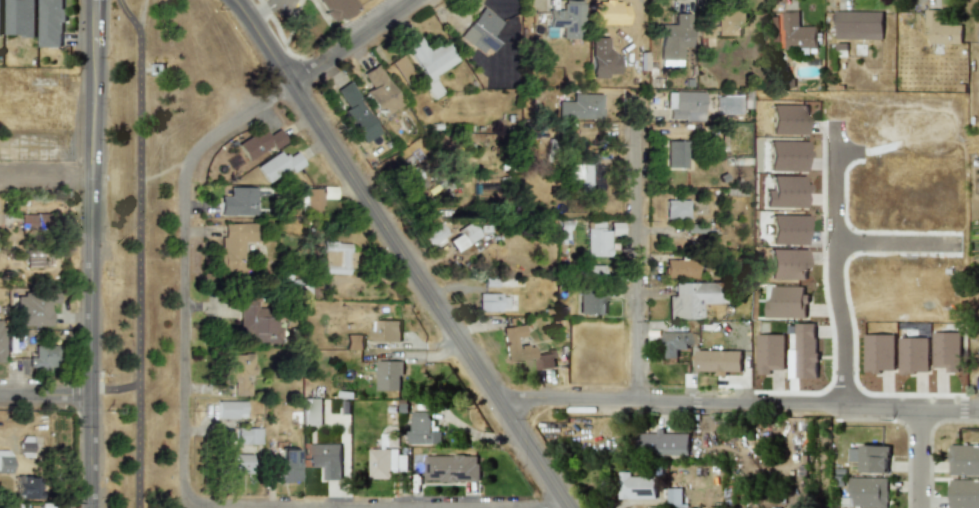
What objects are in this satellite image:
road: (260, 8)
building: (335, 8)
building: (604, 10)
building: (0, 15)
building: (19, 18)
building: (565, 18)
building: (51, 22)
building: (721, 24)
building: (858, 24)
building: (941, 28)
building: (480, 31)
building: (794, 31)
building: (978, 34)
building: (674, 37)
road: (263, 41)
road: (355, 42)
building: (601, 58)
building: (430, 61)
building: (379, 91)
building: (684, 105)
building: (580, 106)
building: (356, 112)
building: (787, 118)
building: (259, 142)
building: (675, 153)
building: (786, 154)
building: (276, 165)
building: (585, 171)
road: (44, 181)
building: (411, 181)
building: (785, 192)
building: (309, 199)
building: (237, 201)
building: (676, 209)
building: (27, 222)
building: (786, 227)
road: (865, 231)
building: (432, 234)
building: (599, 236)
building: (461, 237)
building: (234, 243)
road: (896, 243)
road: (635, 249)
road: (139, 251)
road: (89, 254)
building: (334, 257)
road: (833, 262)
building: (785, 264)
building: (679, 268)
building: (591, 269)
road: (186, 271)
building: (865, 278)
road: (823, 292)
road: (428, 296)
building: (691, 298)
building: (591, 301)
building: (491, 302)
building: (786, 302)
building: (33, 309)
building: (254, 321)
road: (851, 321)
building: (386, 330)
building: (1, 340)
building: (353, 341)
building: (673, 343)
building: (514, 344)
building: (806, 351)
building: (769, 352)
building: (42, 358)
building: (544, 360)
building: (718, 360)
building: (238, 371)
building: (388, 374)
road: (44, 394)
road: (736, 402)
building: (230, 409)
building: (310, 411)
building: (422, 429)
building: (247, 435)
building: (662, 443)
building: (26, 446)
road: (922, 456)
building: (870, 457)
building: (326, 459)
building: (963, 459)
building: (5, 461)
building: (385, 462)
building: (237, 463)
building: (285, 465)
building: (451, 467)
building: (635, 486)
building: (27, 487)
building: (867, 491)
building: (964, 493)
building: (673, 496)
road: (234, 507)

